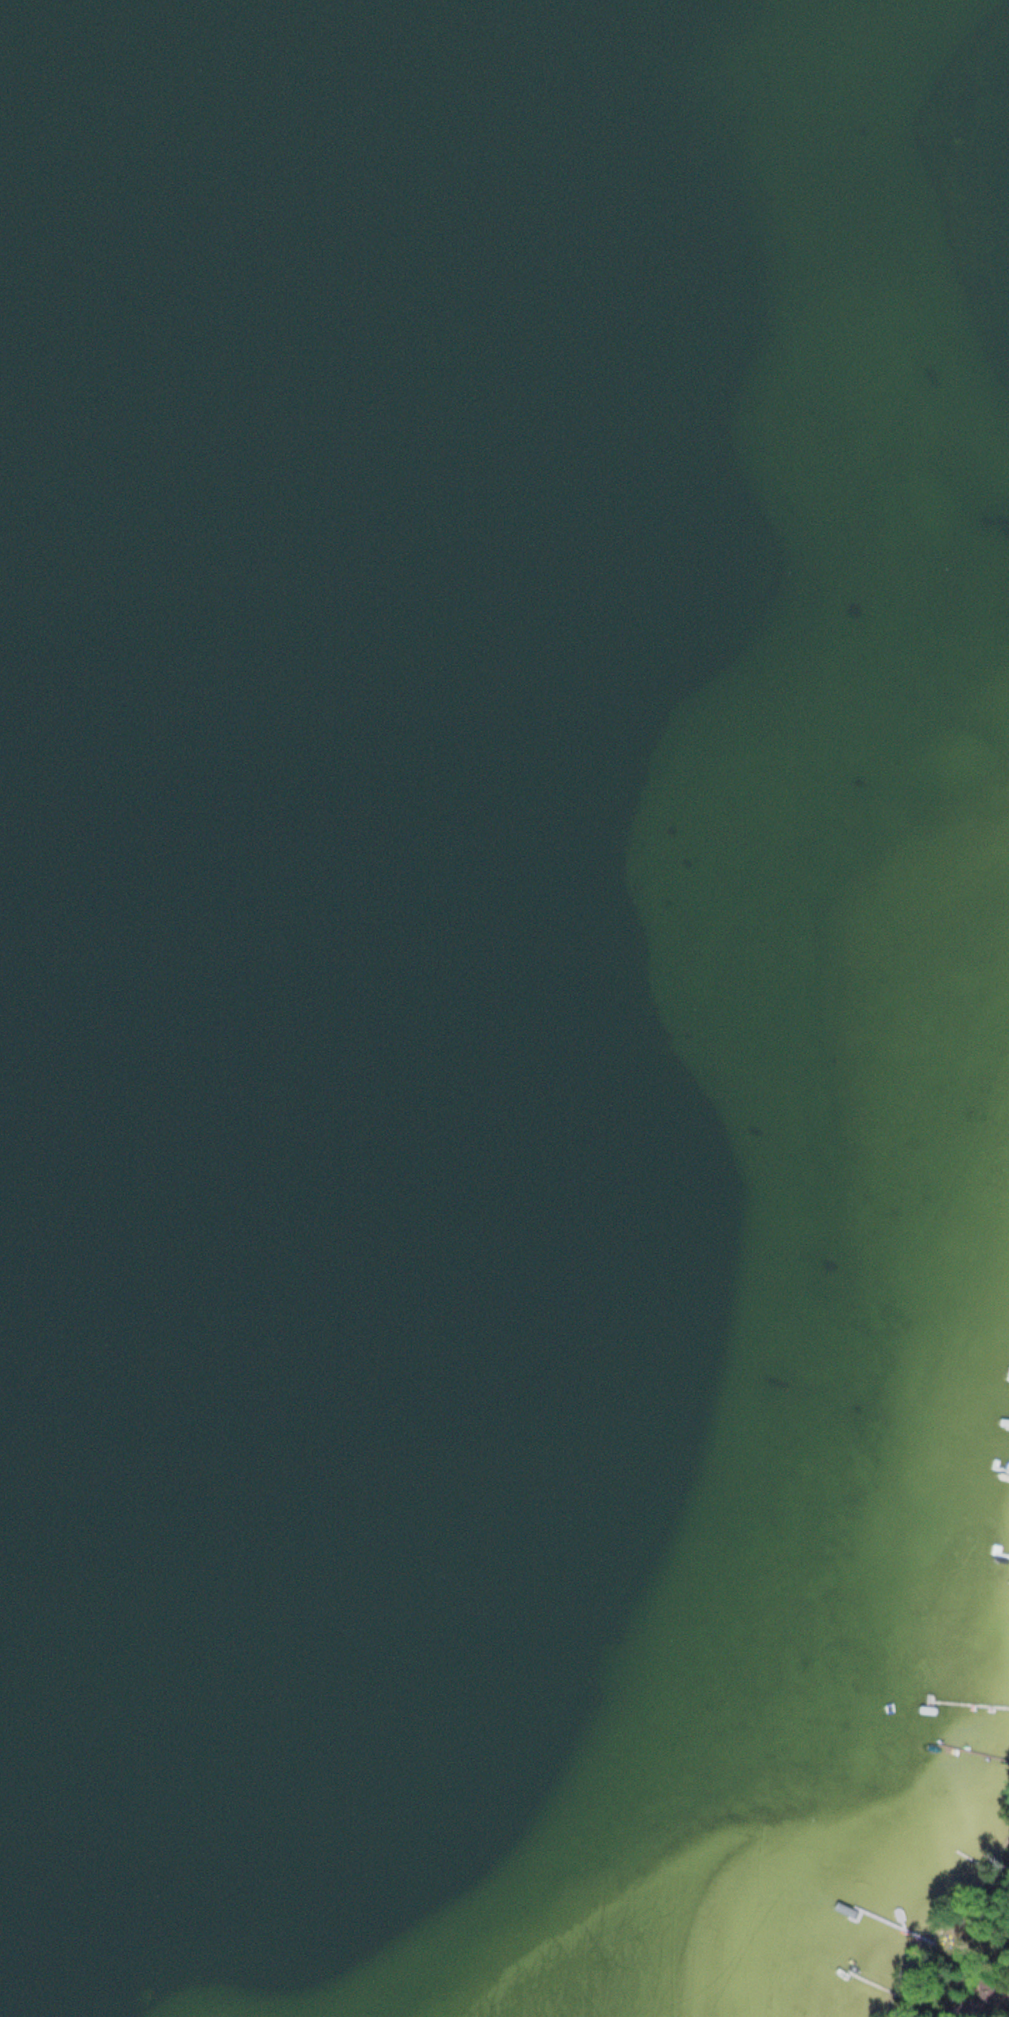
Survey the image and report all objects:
building: (983, 2001)

